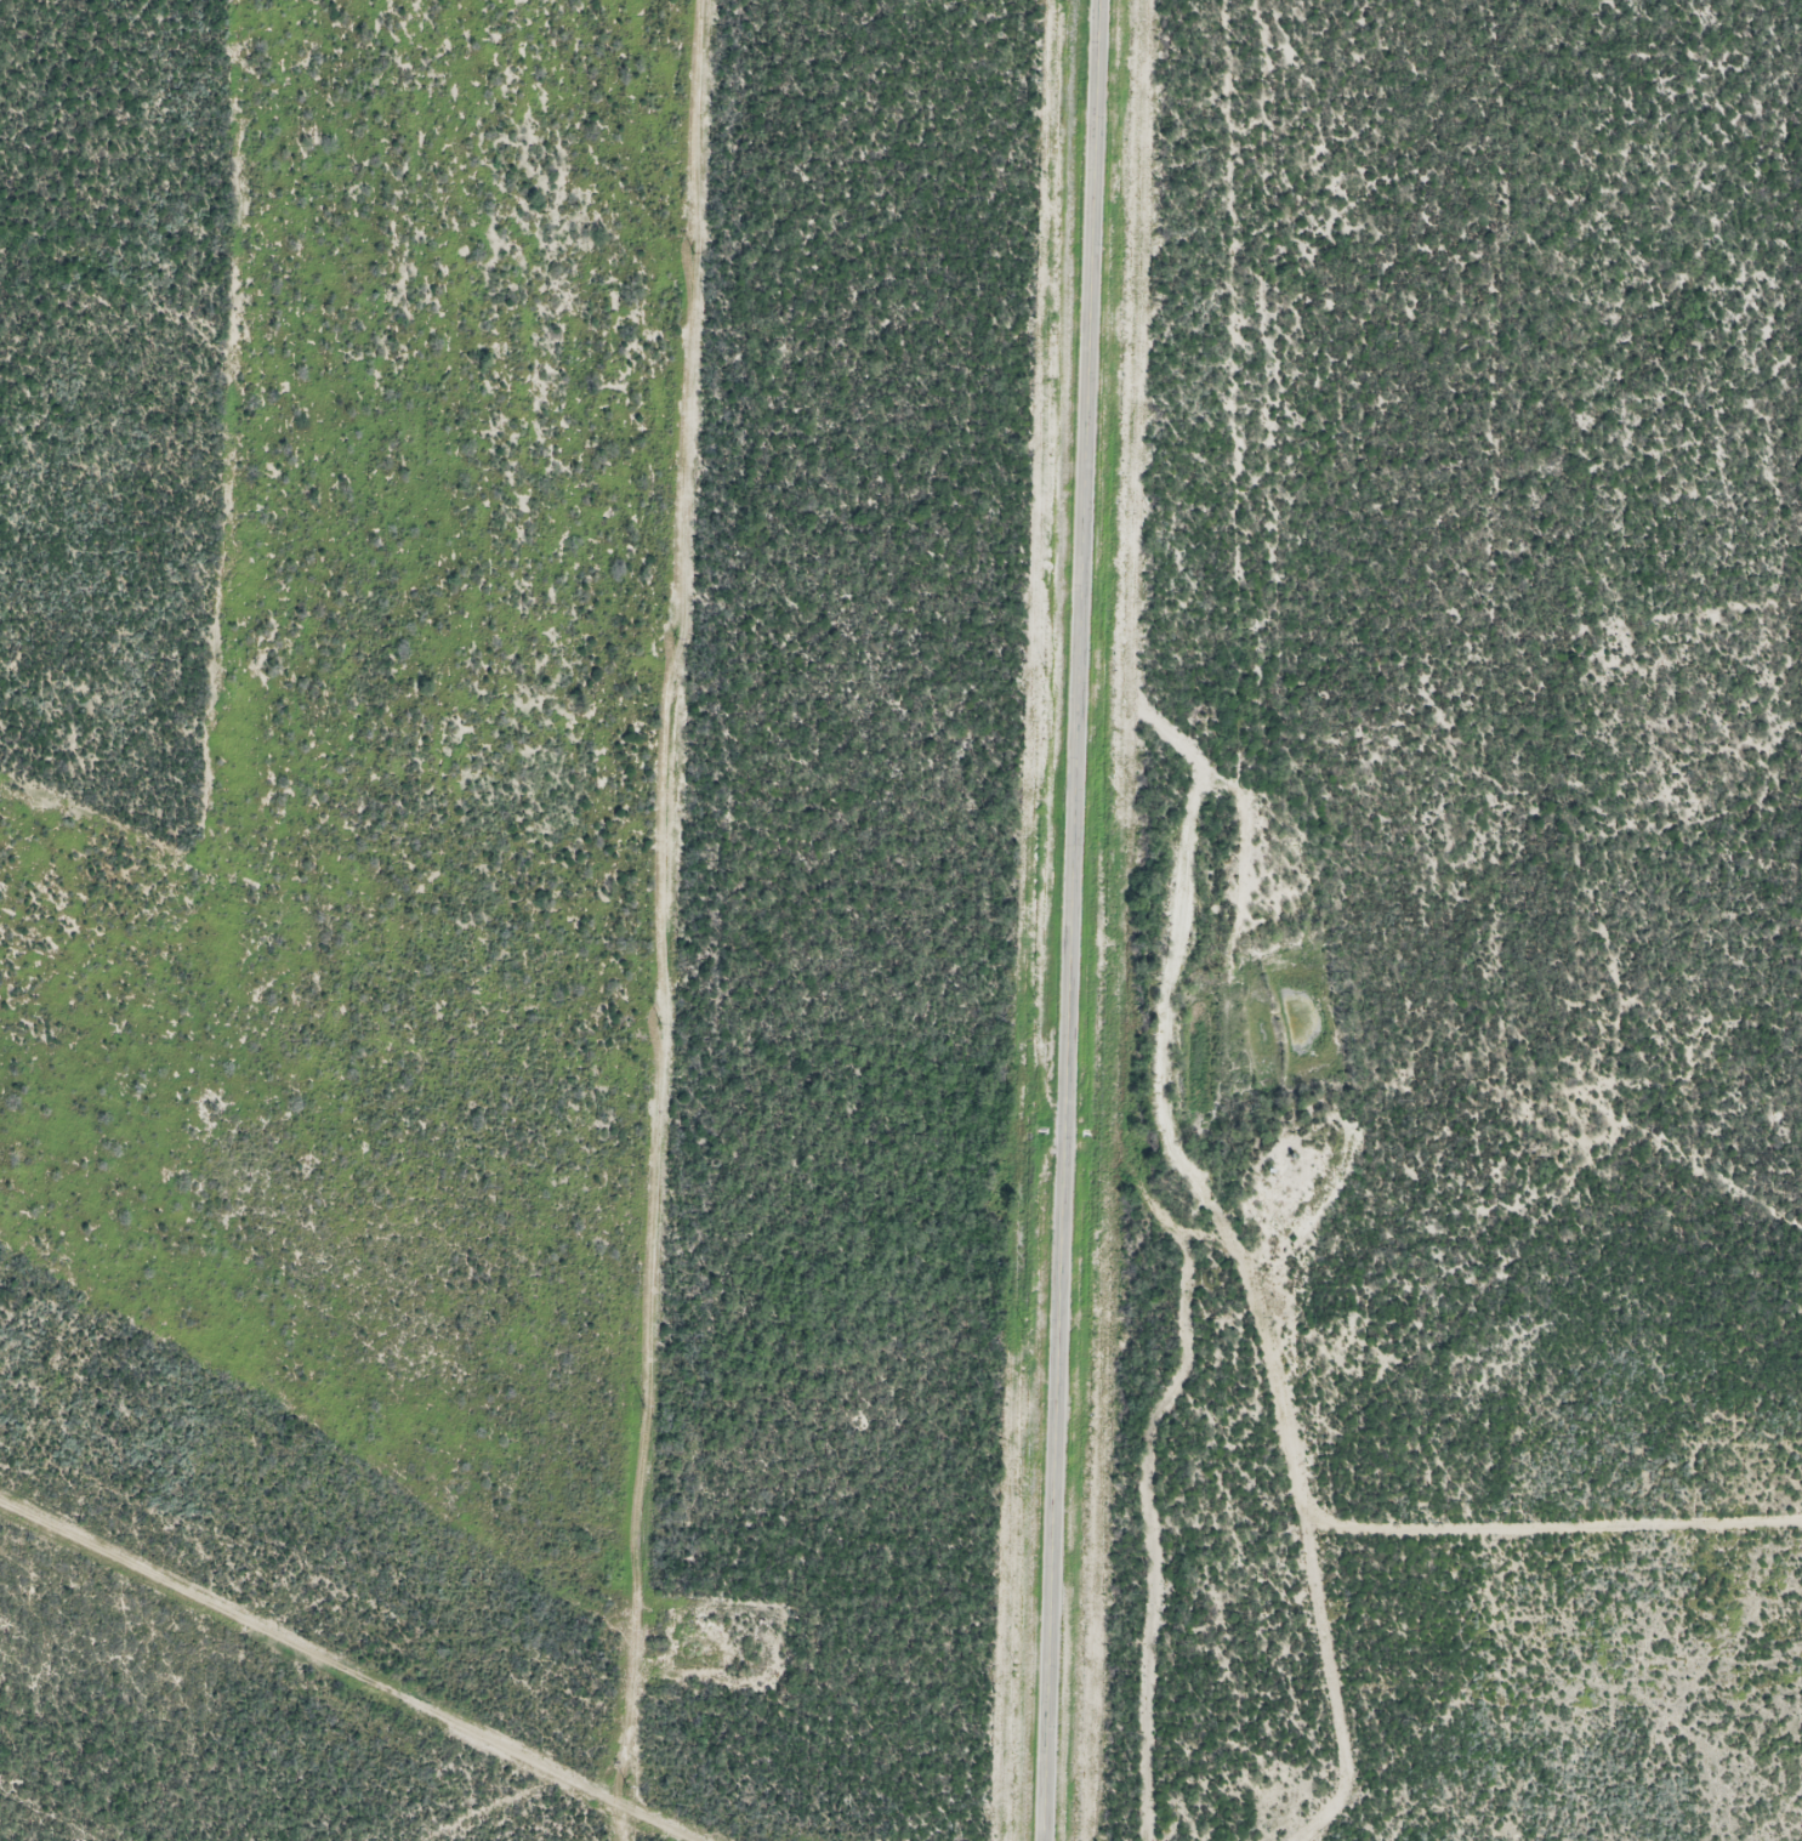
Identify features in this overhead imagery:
power tower: (693, 252)
power tower: (676, 636)
road: (1063, 920)
power tower: (659, 1023)
power tower: (643, 1404)
road: (345, 1671)
power tower: (627, 1785)

